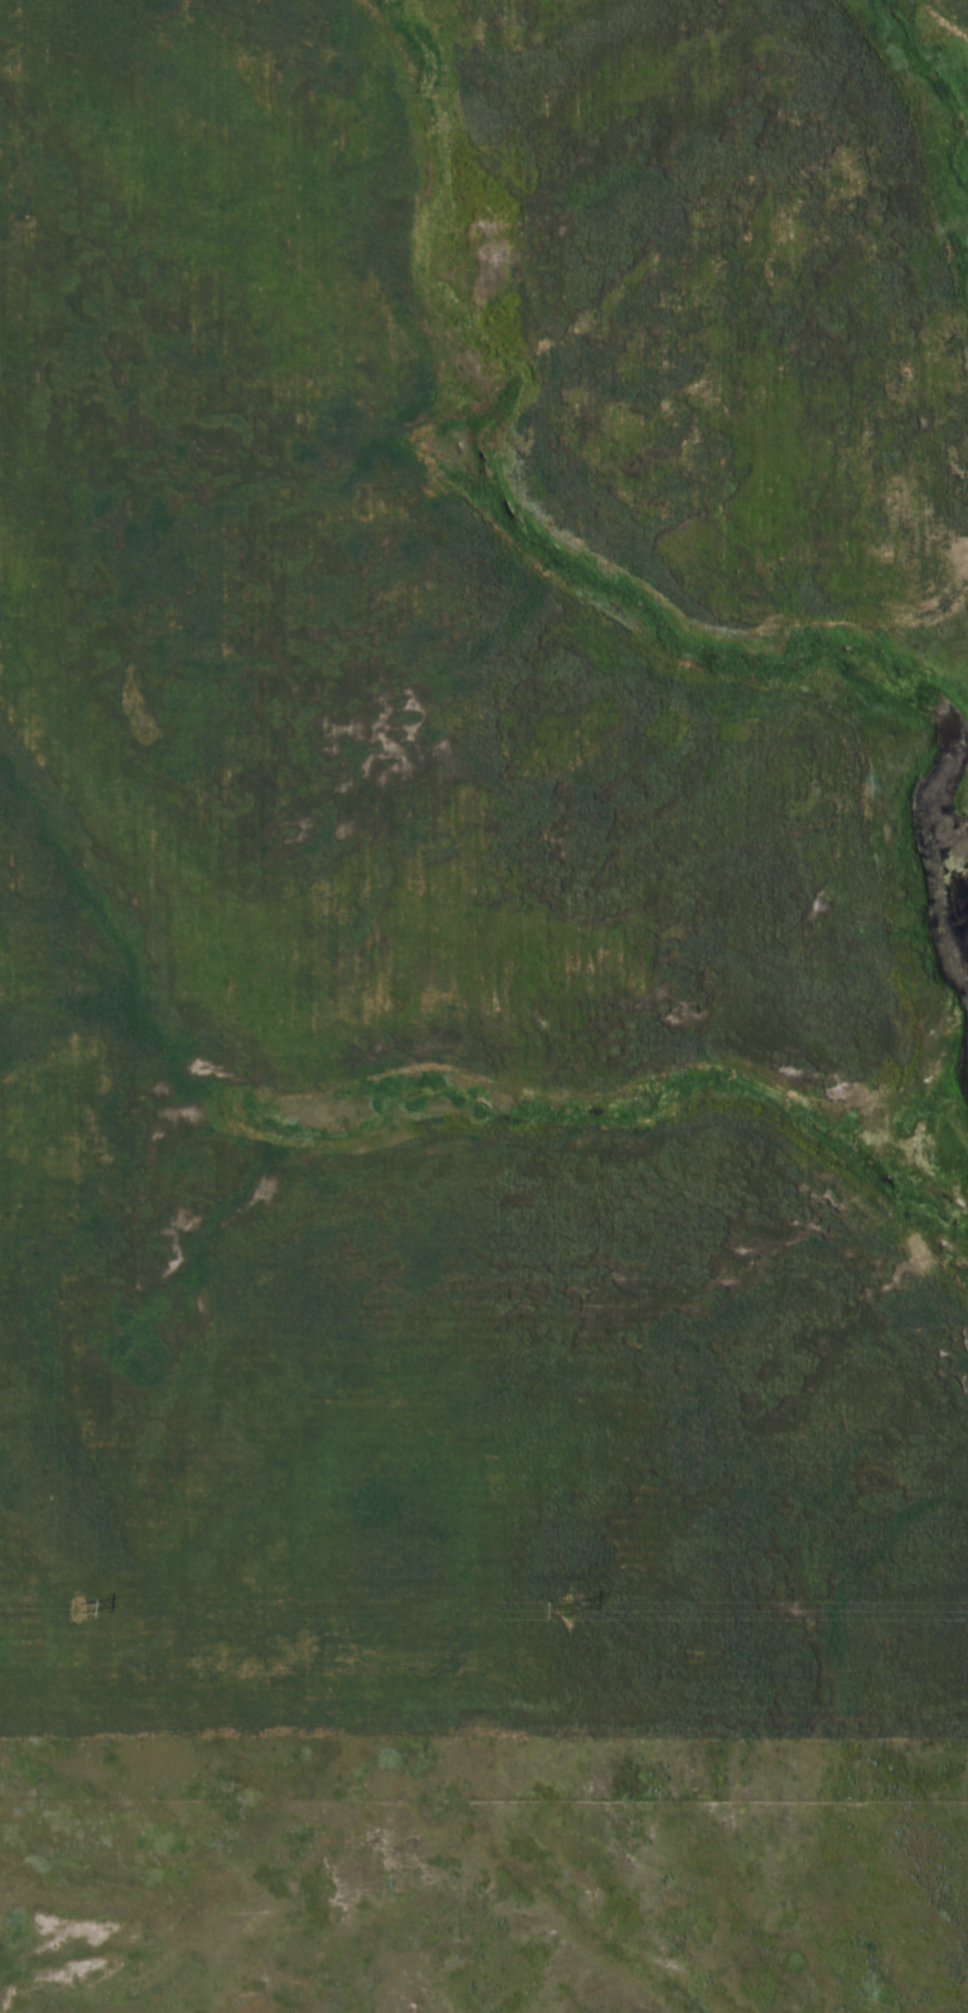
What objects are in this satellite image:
power tower: (78, 1611)
power tower: (569, 1611)

